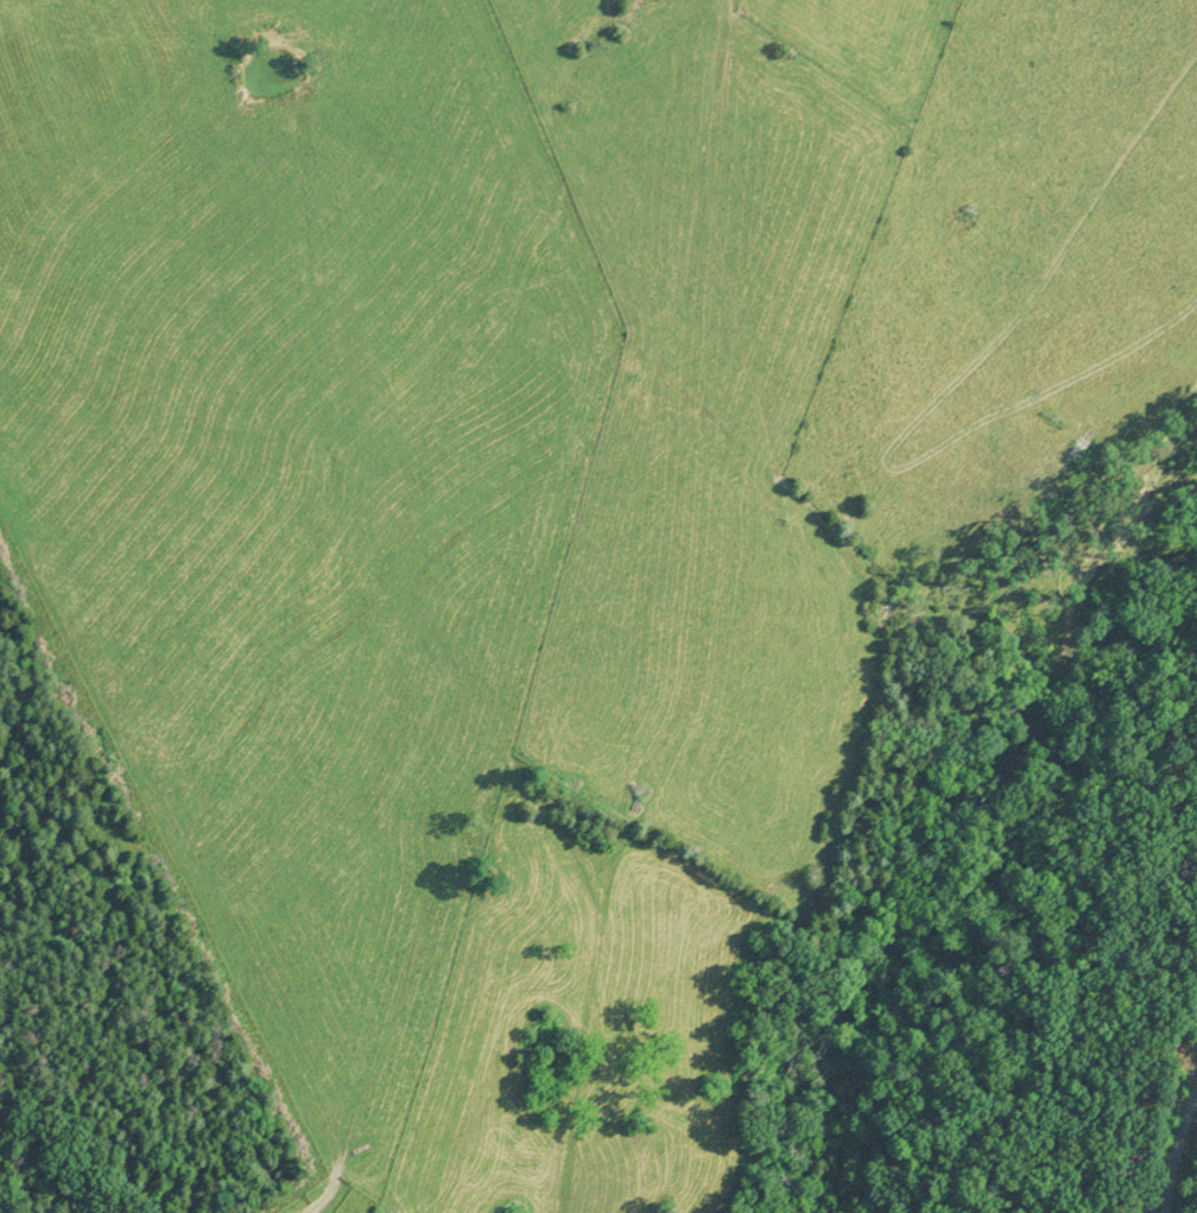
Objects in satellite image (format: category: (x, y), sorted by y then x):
road: (1192, 1196)

